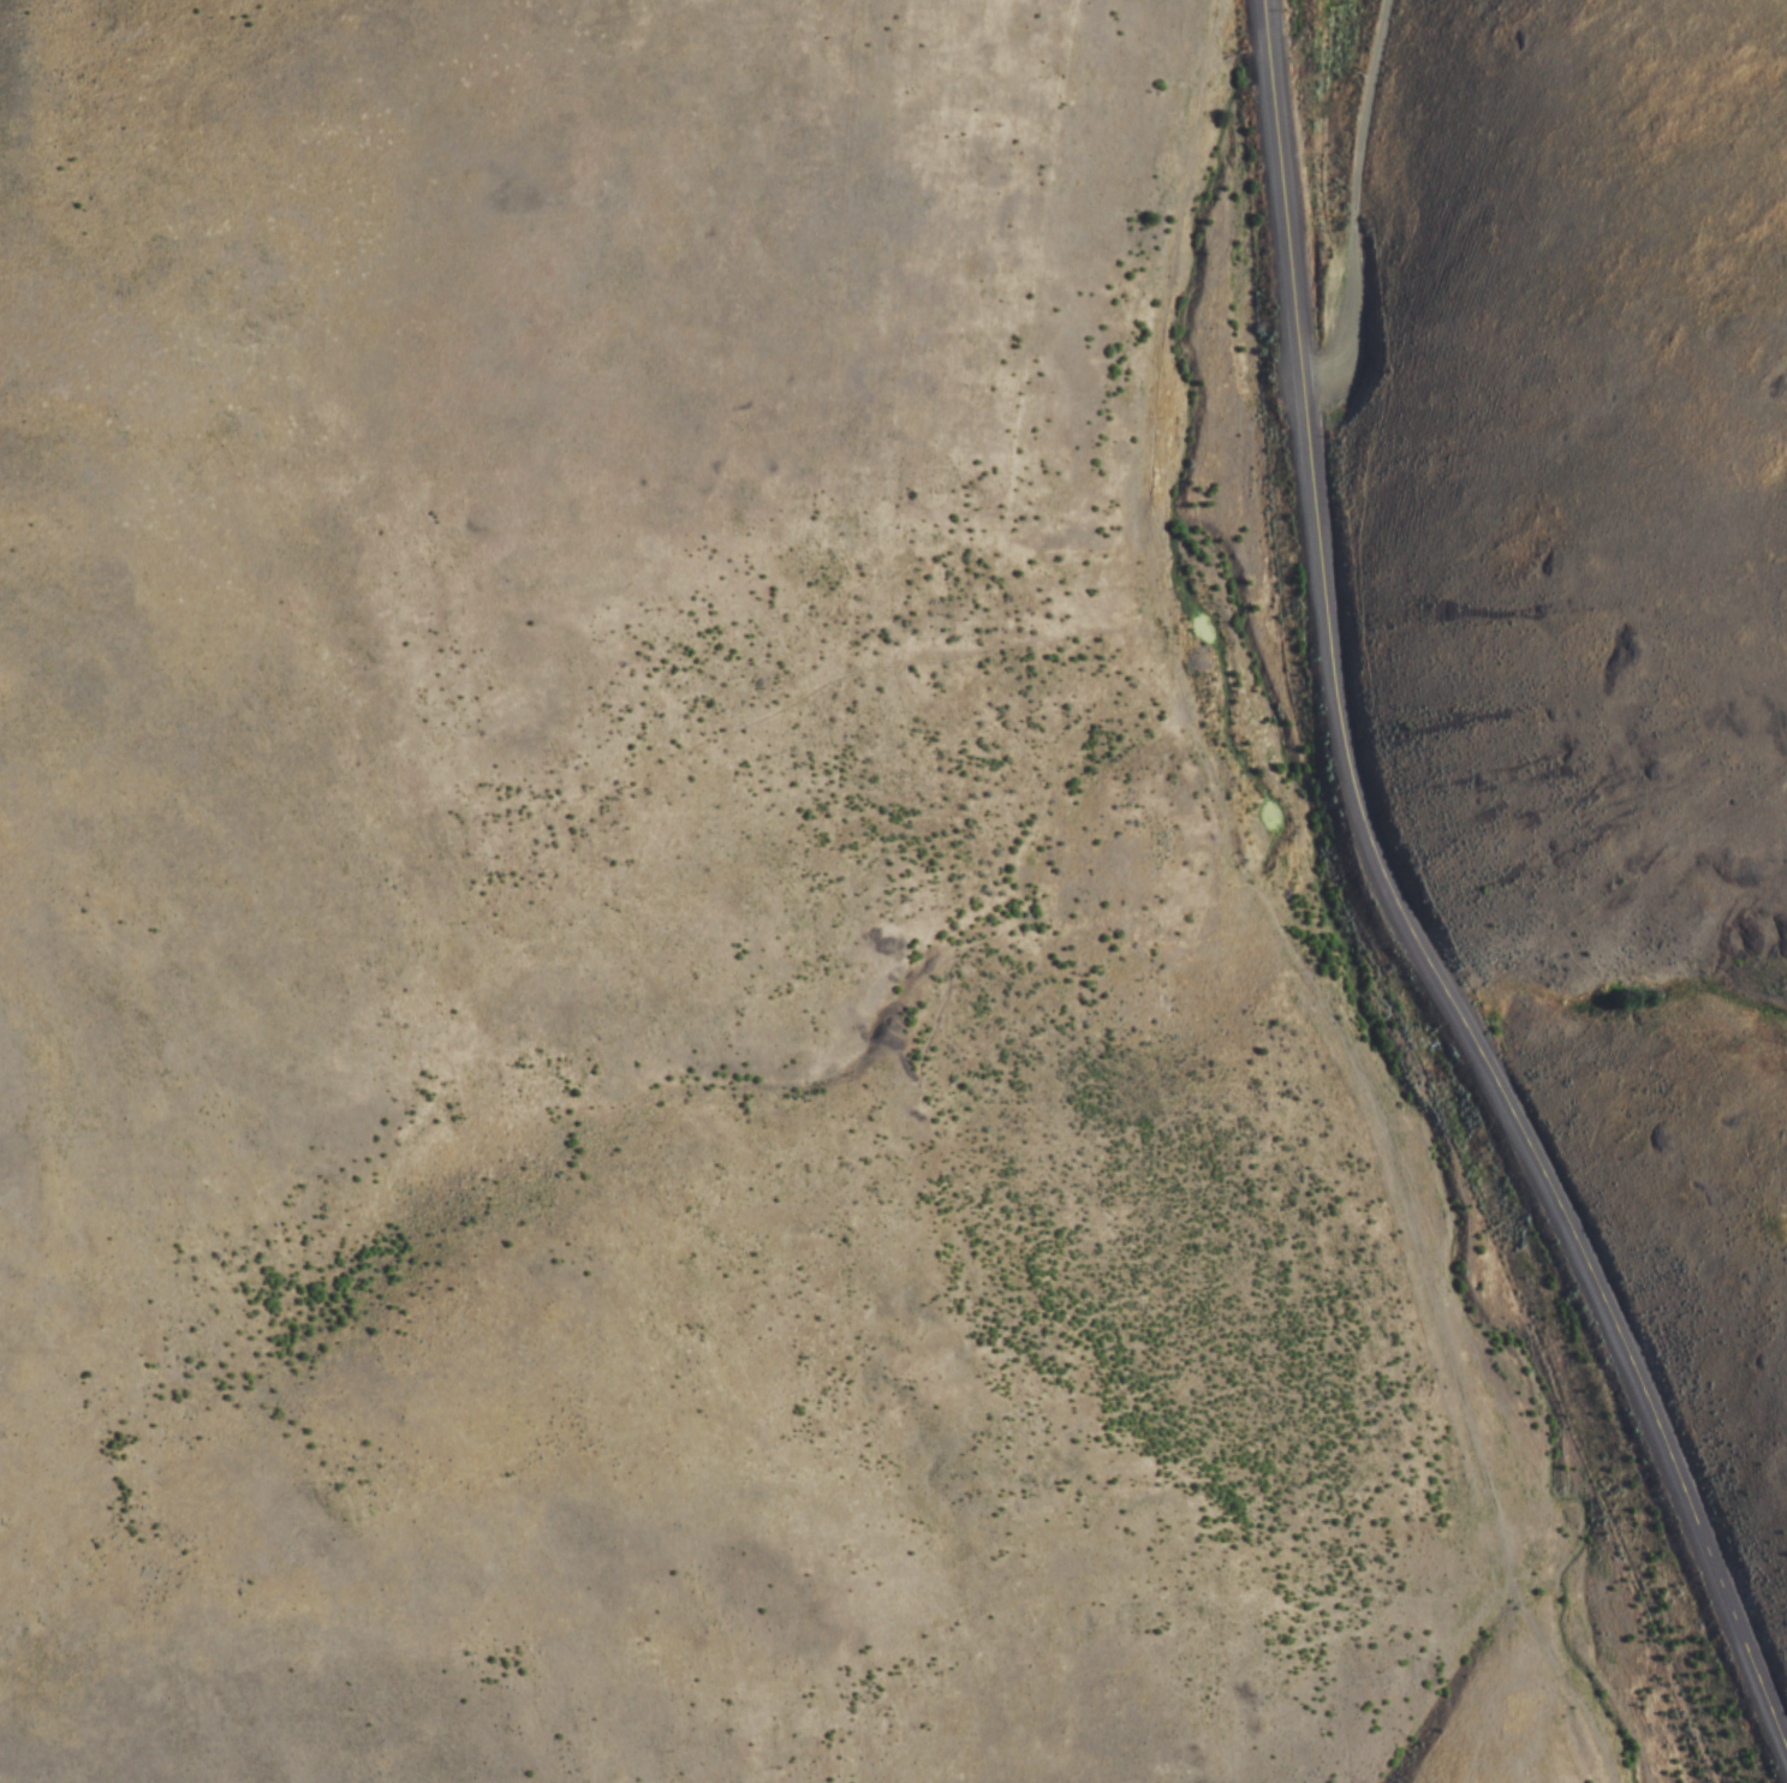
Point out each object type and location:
road: (1363, 213)
road: (1404, 914)

